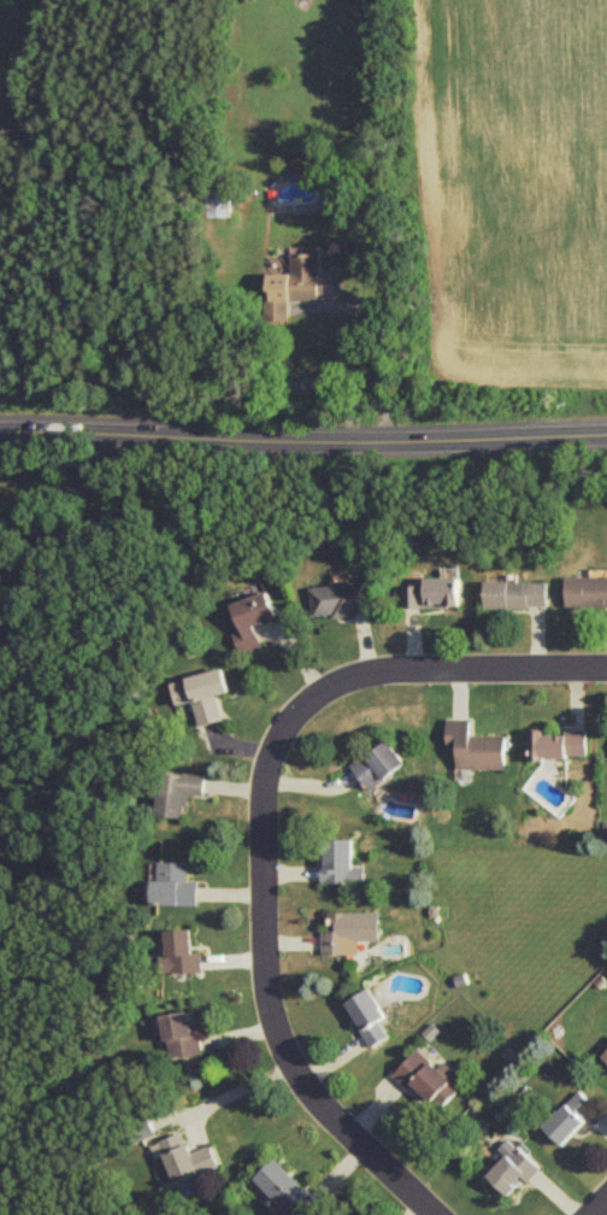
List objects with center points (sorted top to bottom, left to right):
building: (294, 283)
road: (382, 341)
road: (303, 428)
building: (587, 591)
building: (432, 592)
building: (517, 593)
building: (341, 598)
building: (254, 618)
road: (450, 663)
building: (205, 693)
building: (559, 744)
building: (476, 745)
building: (379, 763)
building: (179, 791)
building: (341, 861)
building: (177, 884)
building: (350, 931)
building: (182, 952)
road: (269, 985)
building: (369, 1015)
building: (183, 1034)
building: (605, 1055)
building: (426, 1078)
road: (236, 1091)
building: (570, 1115)
building: (189, 1157)
building: (512, 1166)
building: (287, 1188)
road: (596, 1204)

